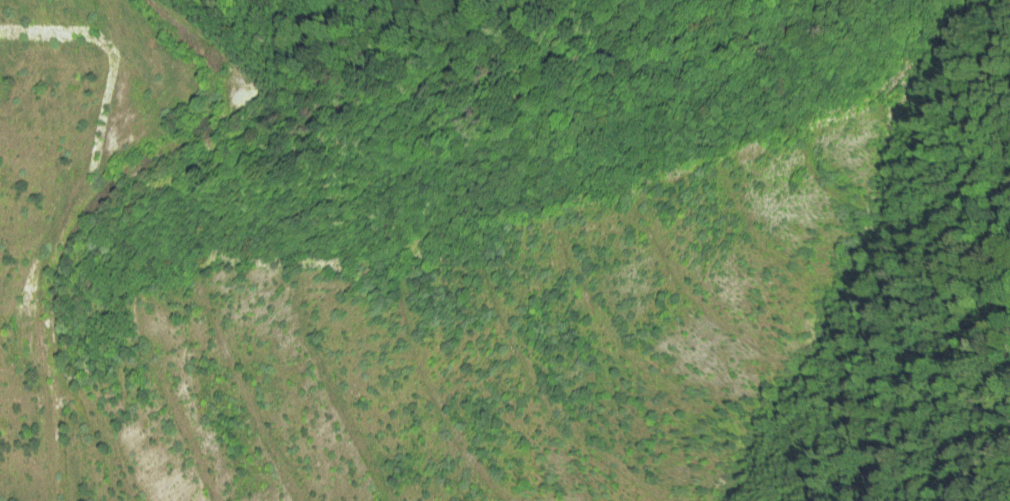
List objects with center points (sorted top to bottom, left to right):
quarry: (412, 302)

